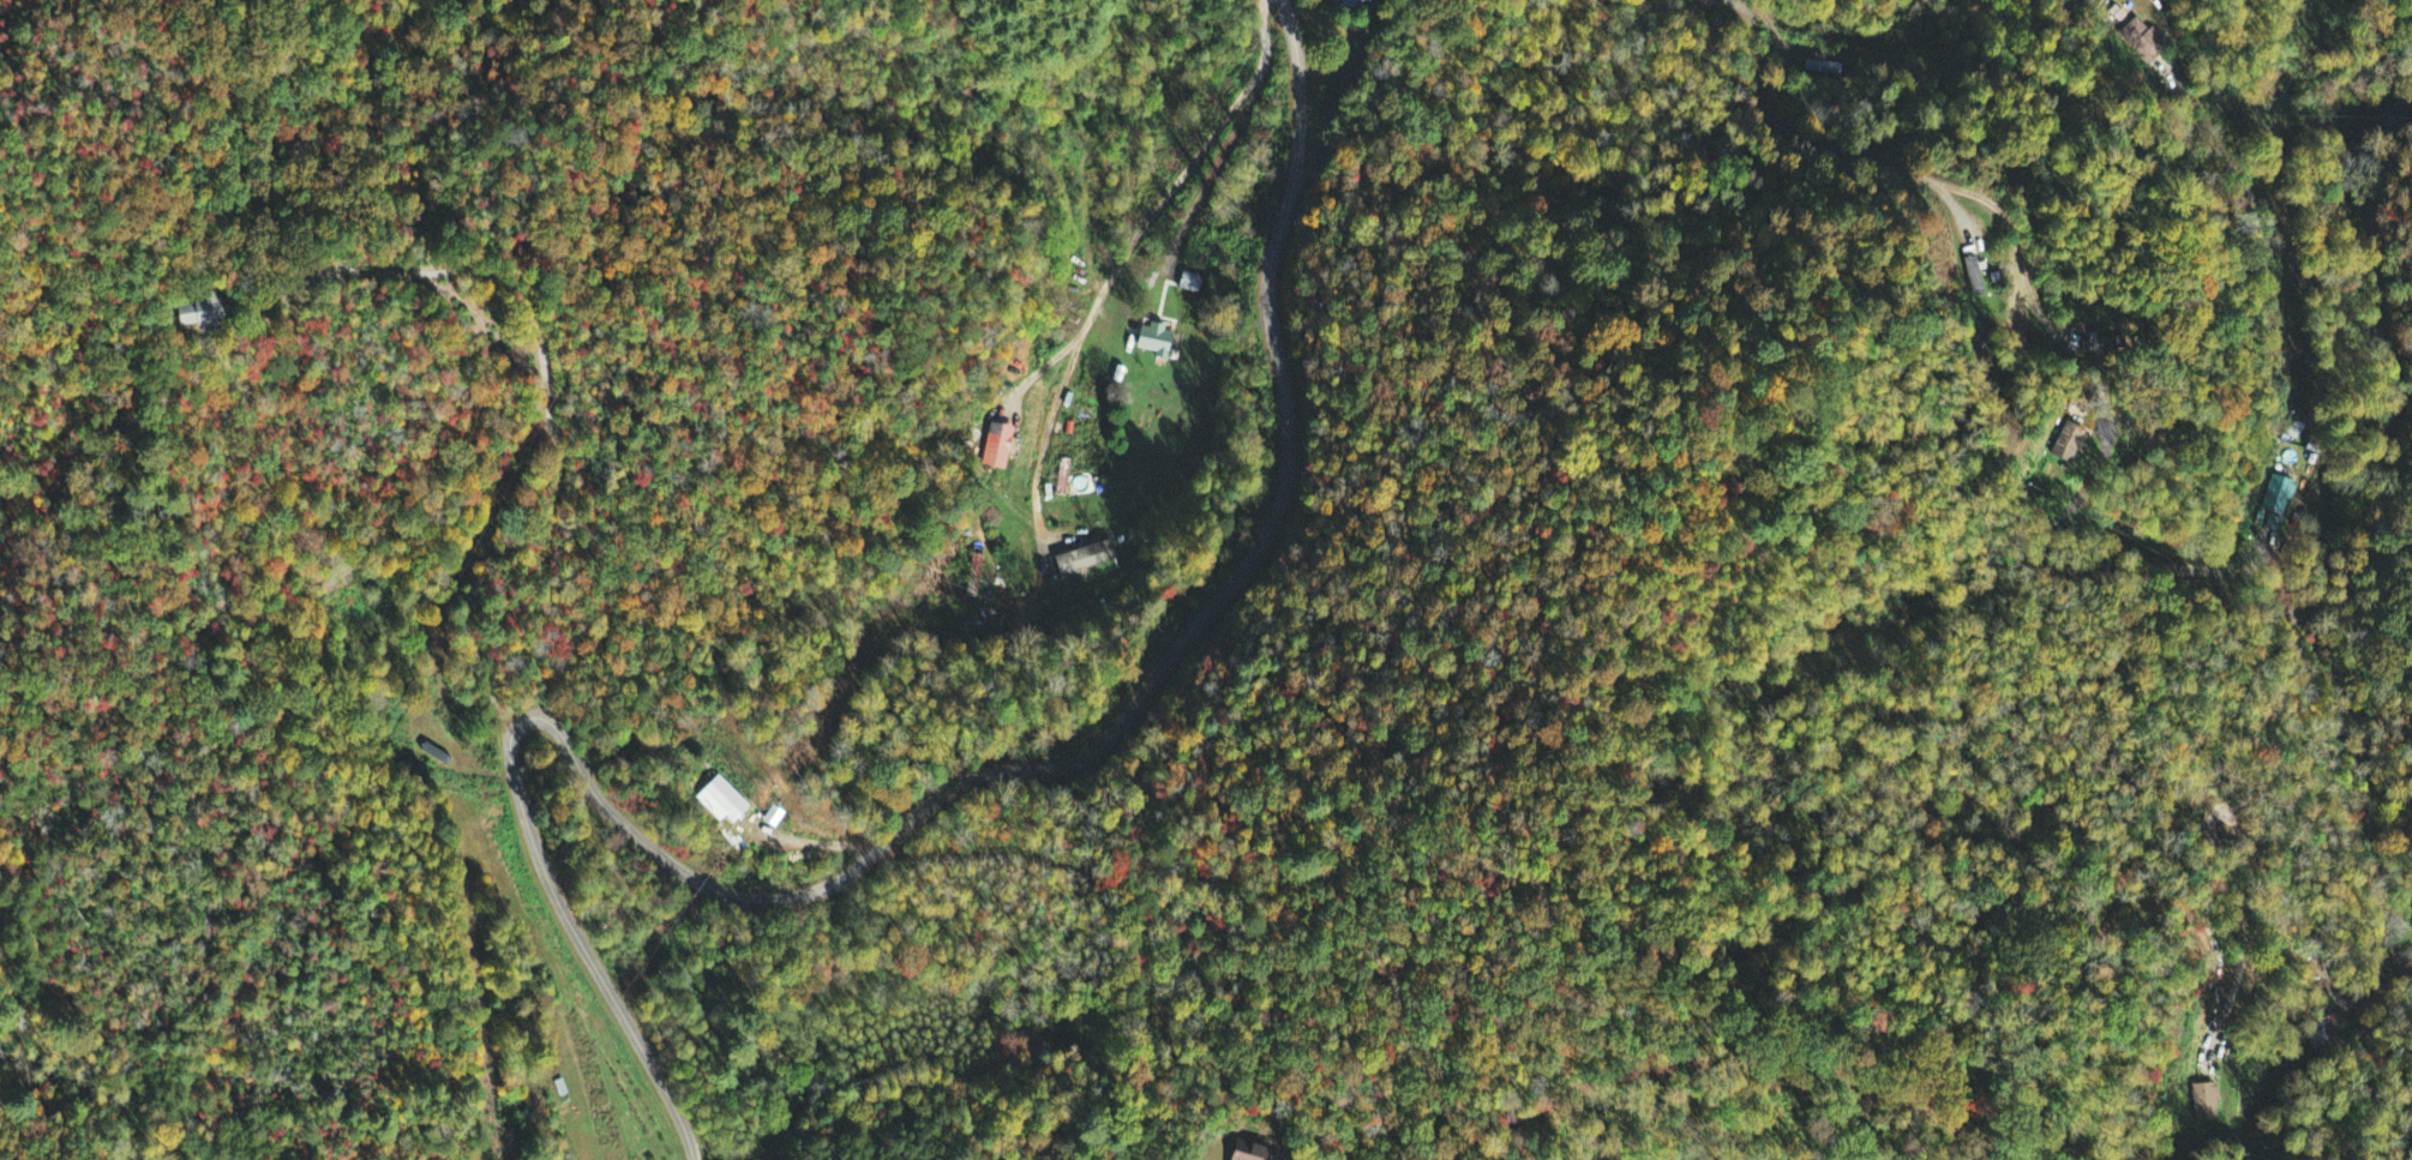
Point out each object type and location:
building: (1348, 2)
building: (2142, 40)
road: (1219, 162)
road: (1158, 208)
building: (1973, 278)
building: (203, 314)
building: (1151, 343)
road: (538, 387)
building: (1086, 417)
road: (1048, 429)
building: (2066, 445)
building: (996, 447)
building: (2278, 498)
building: (1086, 560)
building: (977, 577)
road: (935, 797)
building: (724, 801)
road: (815, 841)
building: (2206, 1104)
building: (1246, 1152)

